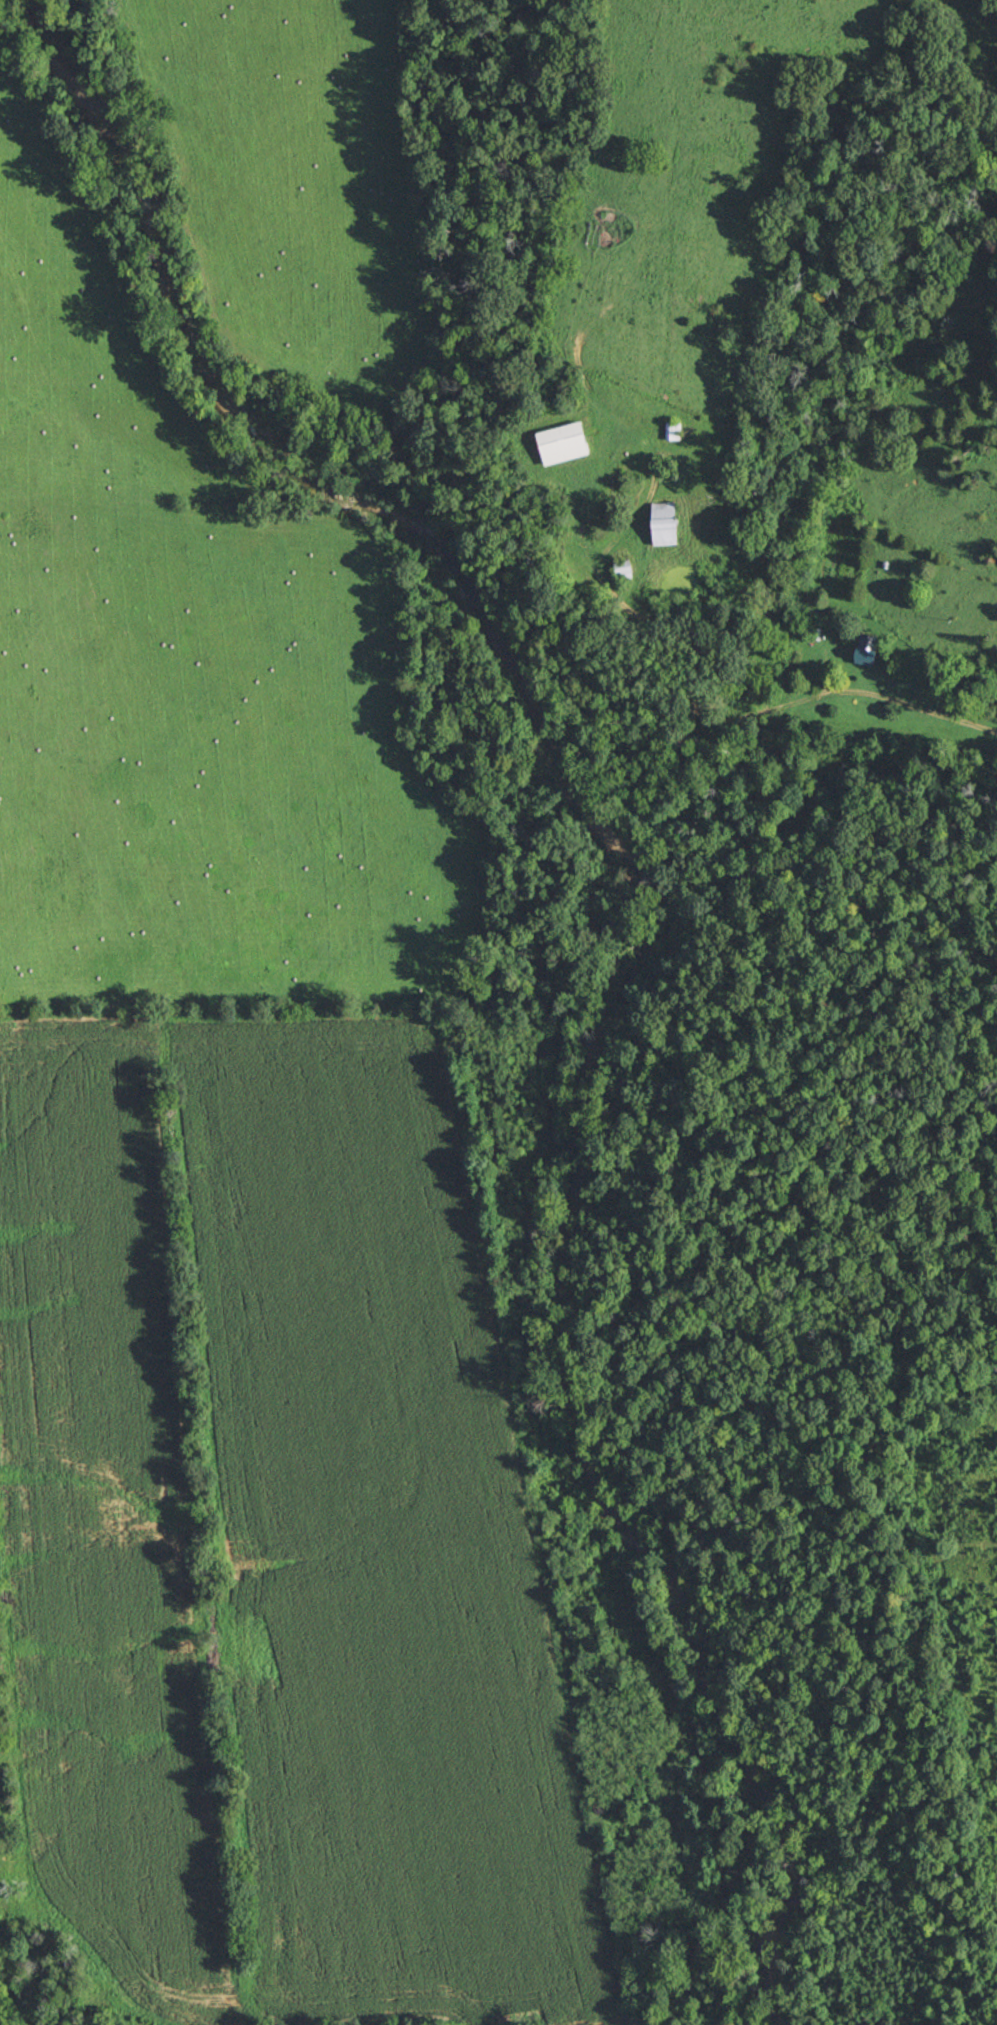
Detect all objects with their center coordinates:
building: (674, 430)
building: (565, 443)
building: (667, 523)
building: (625, 569)
road: (798, 613)
building: (867, 649)

